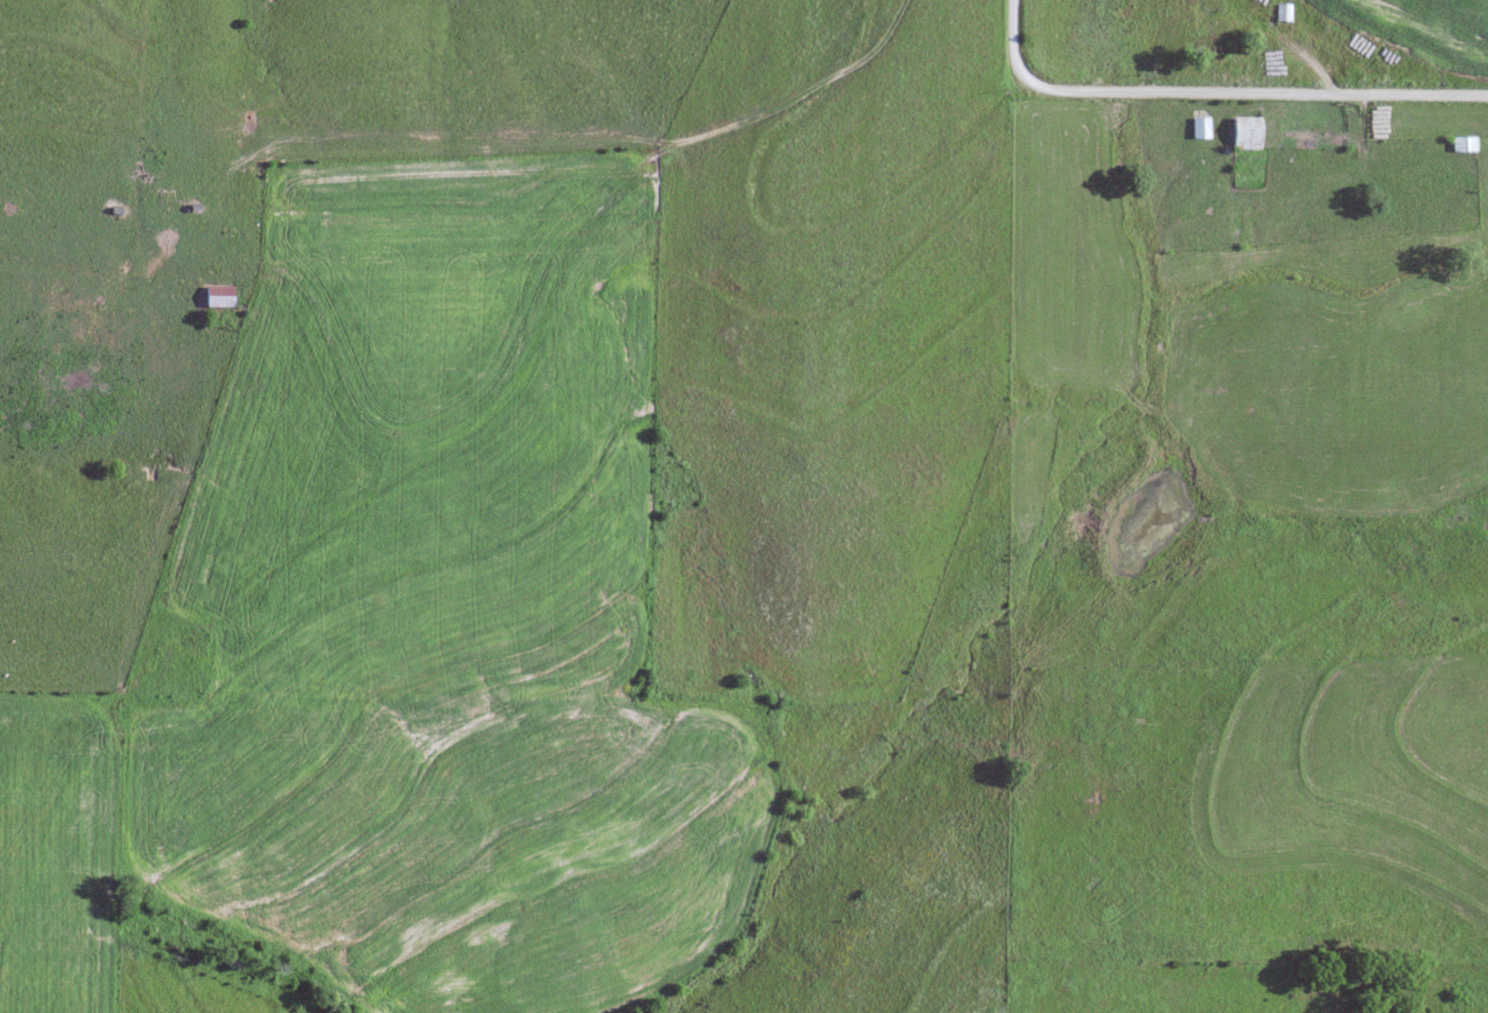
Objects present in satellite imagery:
building: (1281, 12)
building: (1208, 15)
road: (1214, 92)
building: (1198, 127)
building: (1245, 133)
building: (1462, 144)
building: (217, 296)

